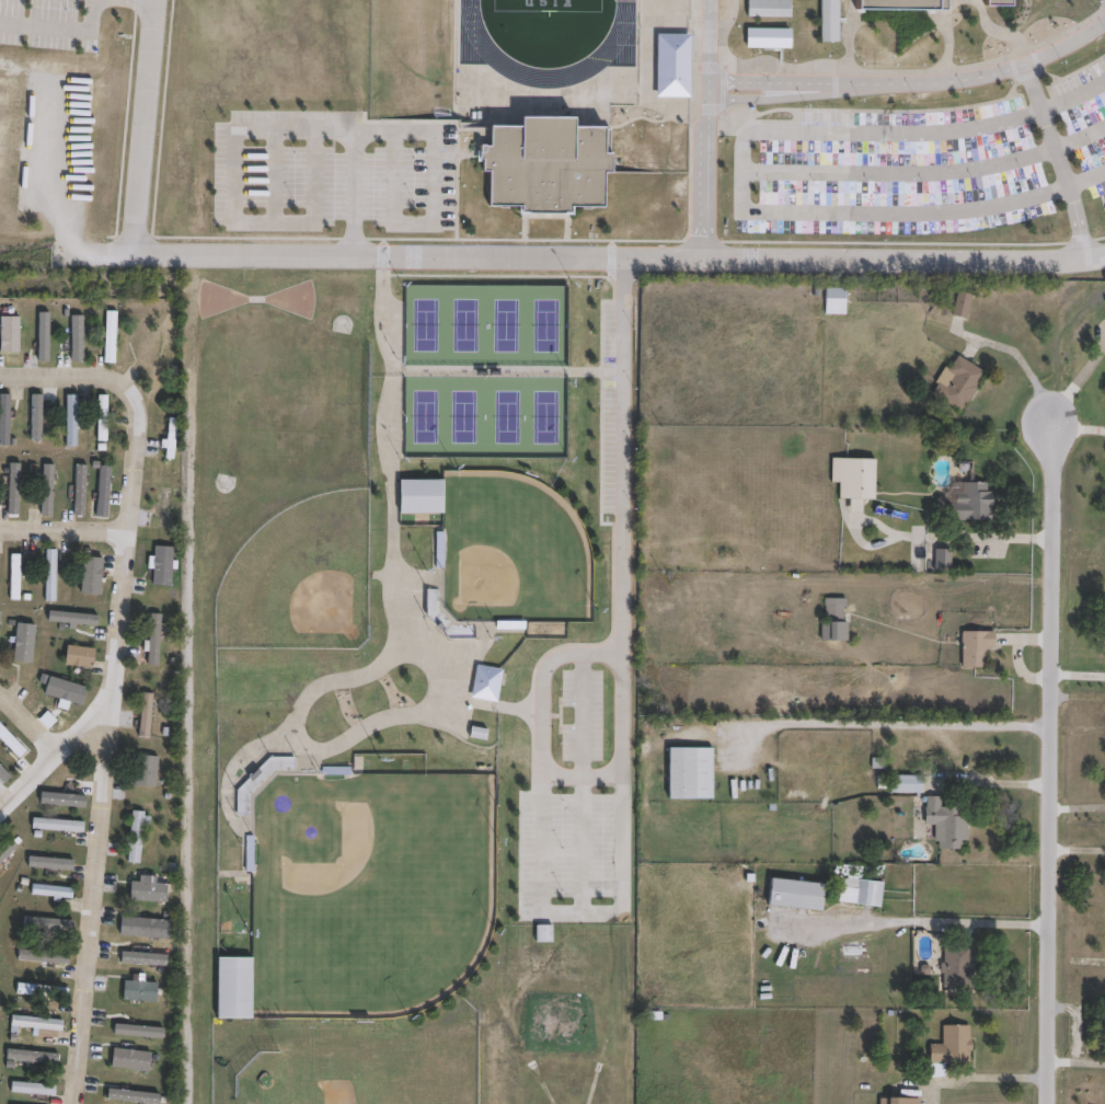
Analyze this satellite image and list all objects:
building: (936, 3)
park: (546, 4)
road: (57, 27)
track: (474, 41)
building: (669, 65)
road: (909, 82)
road: (142, 128)
road: (314, 130)
road: (700, 130)
road: (1057, 161)
parking lot: (922, 164)
building: (542, 165)
parking lot: (330, 171)
road: (926, 172)
road: (740, 173)
road: (274, 174)
building: (762, 177)
building: (813, 177)
road: (352, 194)
road: (50, 200)
building: (762, 206)
building: (813, 207)
building: (1104, 209)
road: (605, 260)
building: (830, 294)
building: (956, 298)
building: (9, 333)
building: (42, 335)
building: (110, 337)
road: (1016, 361)
park: (484, 368)
road: (76, 376)
building: (955, 378)
building: (3, 417)
building: (68, 421)
building: (99, 423)
building: (168, 439)
building: (851, 475)
building: (10, 490)
building: (44, 490)
building: (82, 492)
building: (100, 492)
building: (966, 496)
building: (415, 497)
building: (1104, 507)
building: (166, 509)
road: (64, 529)
building: (937, 554)
building: (159, 565)
building: (11, 573)
building: (94, 573)
building: (47, 576)
building: (829, 611)
building: (70, 617)
building: (151, 641)
building: (971, 643)
building: (19, 645)
building: (77, 658)
building: (493, 672)
road: (1079, 675)
building: (145, 714)
road: (28, 721)
building: (594, 727)
building: (11, 741)
road: (57, 744)
road: (107, 755)
road: (1054, 766)
building: (143, 771)
building: (689, 772)
building: (2, 779)
road: (580, 779)
building: (902, 779)
road: (619, 783)
road: (1003, 784)
building: (543, 795)
building: (942, 818)
building: (56, 826)
building: (135, 838)
building: (9, 849)
building: (856, 887)
building: (790, 890)
building: (50, 894)
road: (919, 921)
building: (54, 924)
building: (148, 927)
building: (542, 932)
building: (46, 956)
building: (147, 958)
building: (954, 962)
building: (229, 988)
building: (41, 992)
building: (136, 992)
building: (0, 994)
building: (35, 1024)
building: (137, 1030)
building: (948, 1042)
building: (34, 1057)
building: (134, 1060)
road: (989, 1077)
building: (32, 1090)
building: (137, 1096)
building: (889, 1099)

